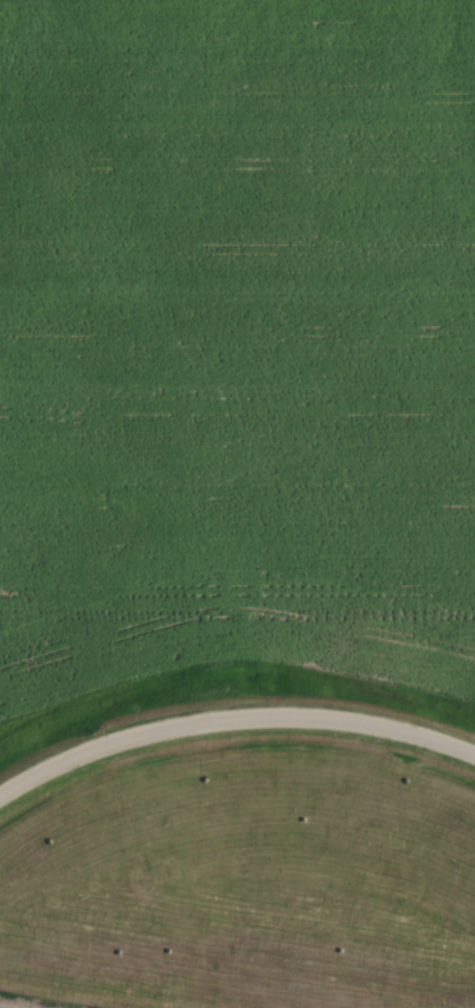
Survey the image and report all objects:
road: (232, 723)

